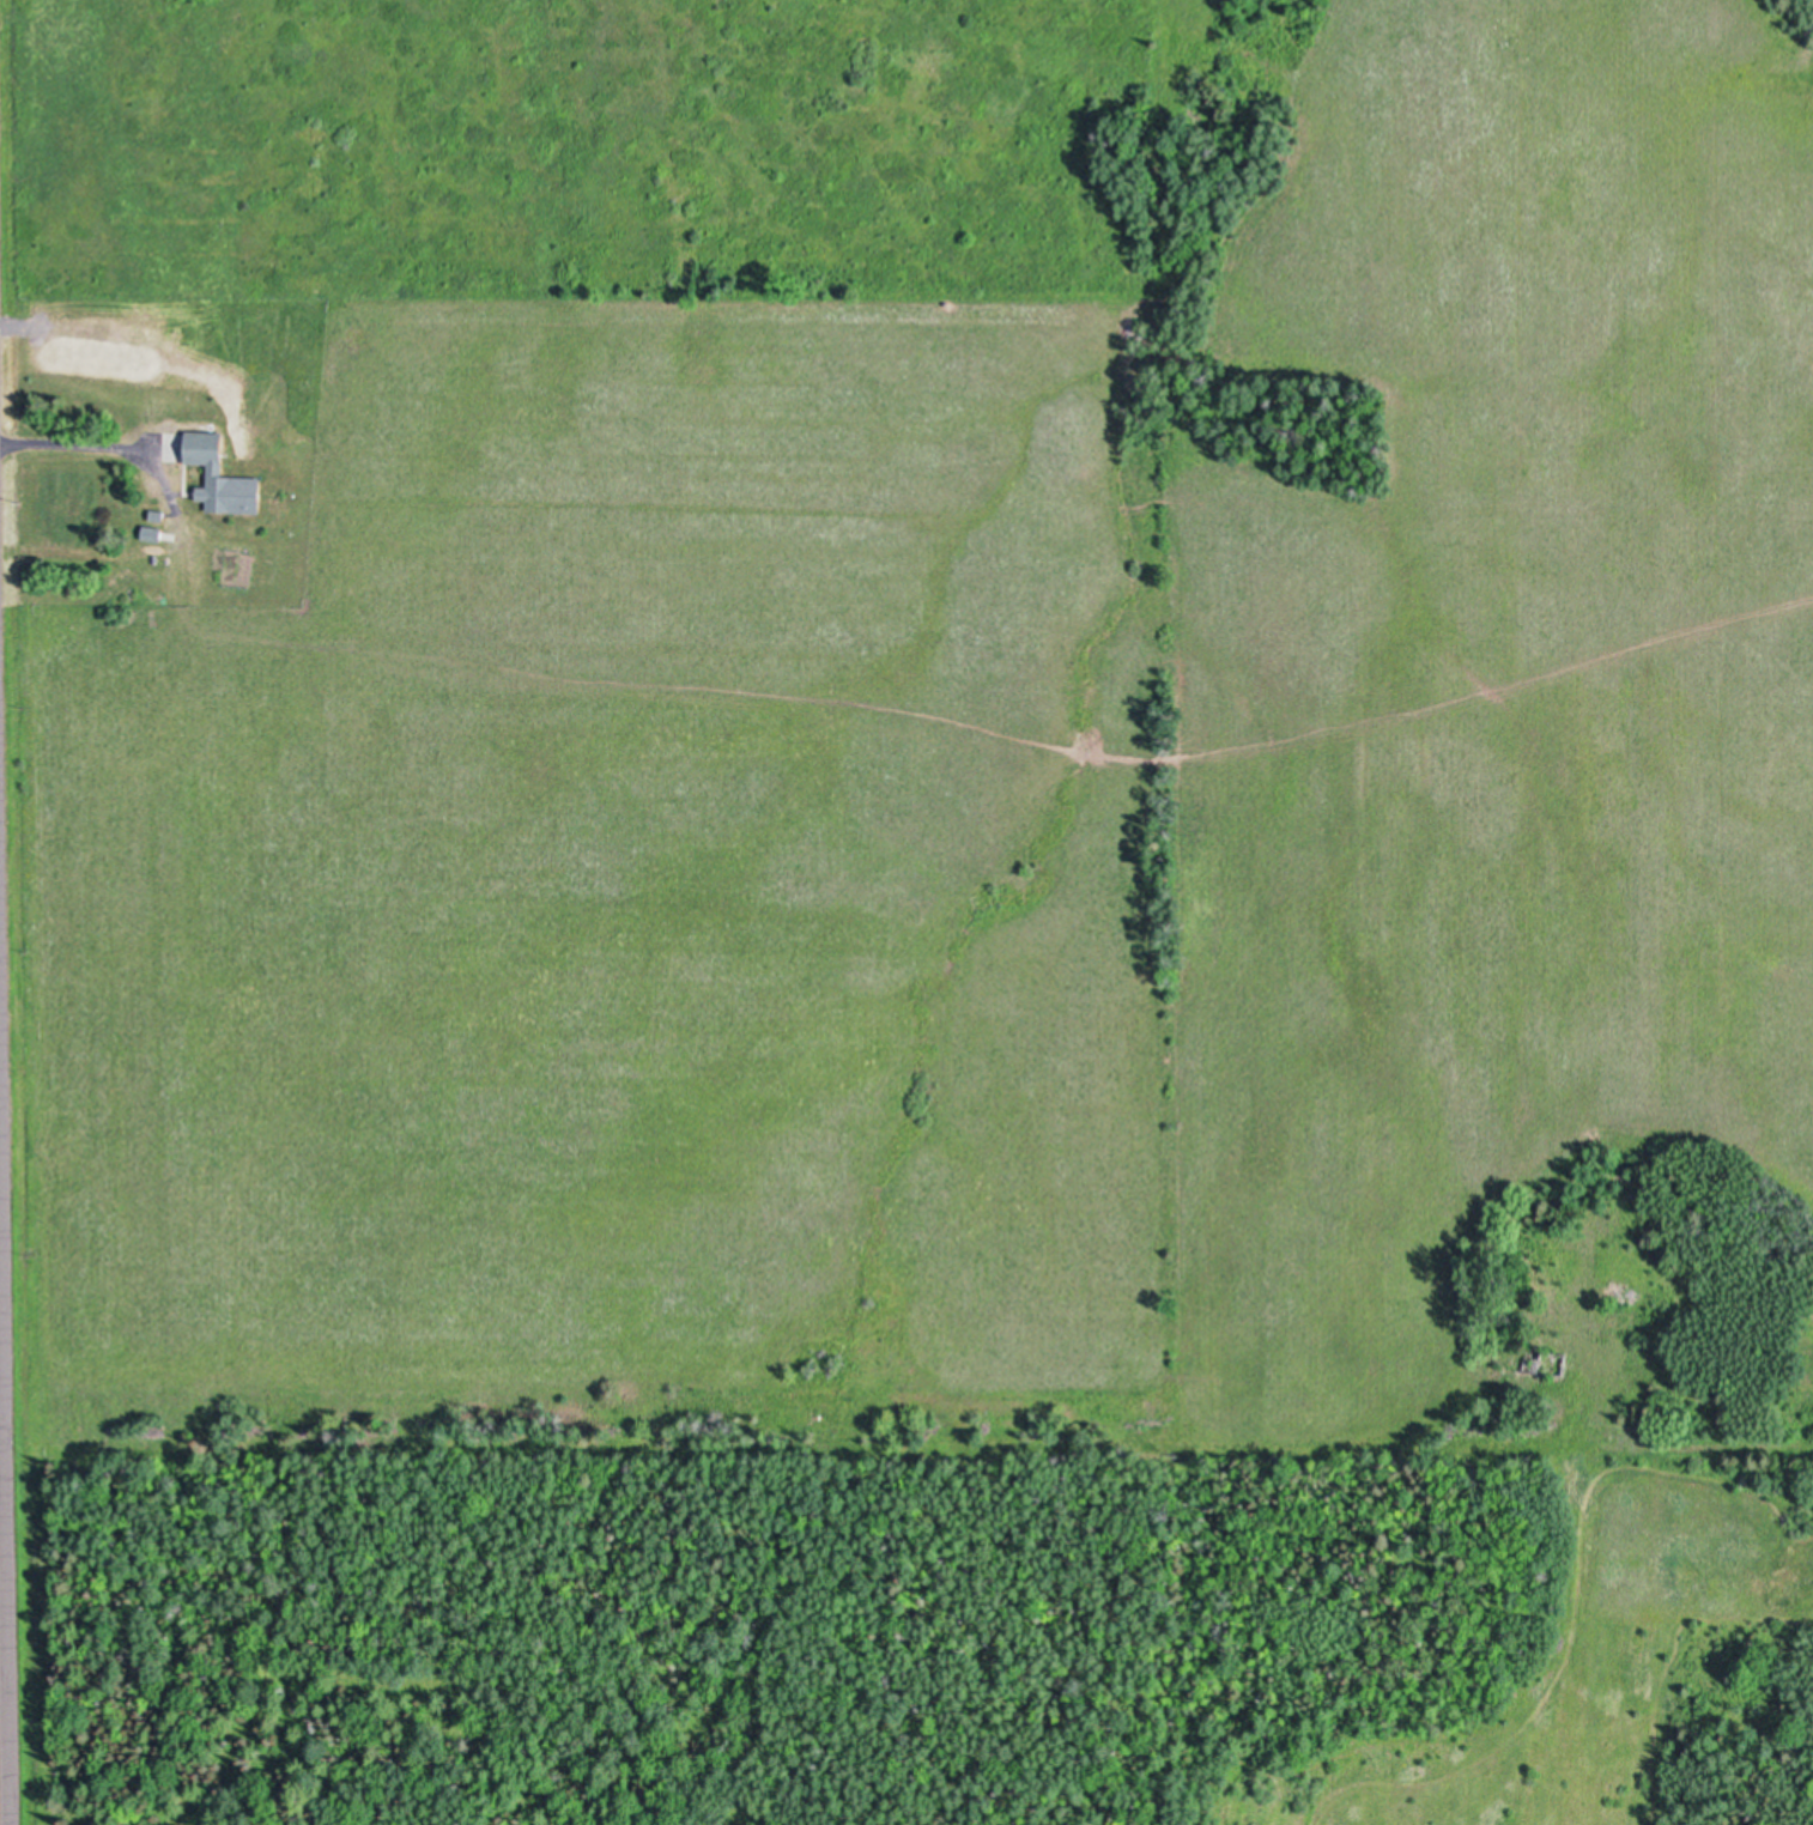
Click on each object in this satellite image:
road: (68, 449)
building: (220, 474)
building: (156, 514)
building: (151, 532)
building: (445, 751)
building: (433, 854)
building: (363, 1008)
building: (1547, 1363)
road: (2, 1550)

